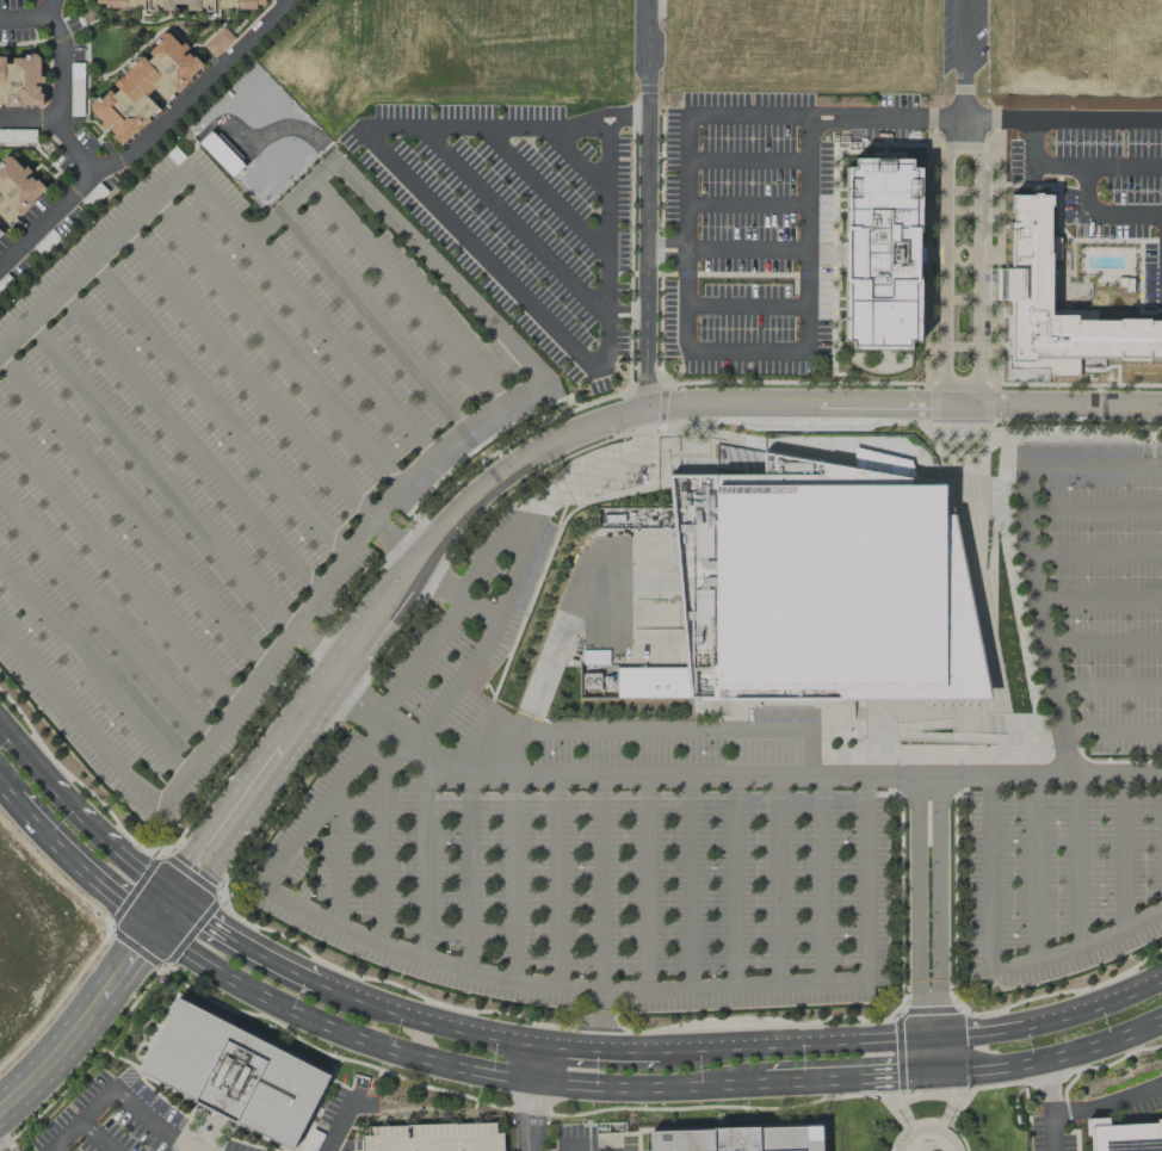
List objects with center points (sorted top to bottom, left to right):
building: (224, 6)
road: (23, 18)
building: (217, 43)
road: (965, 58)
building: (20, 81)
road: (58, 85)
building: (143, 87)
road: (610, 113)
road: (747, 116)
road: (886, 117)
road: (1063, 118)
road: (471, 128)
road: (147, 138)
road: (1037, 138)
road: (70, 147)
road: (577, 161)
road: (747, 161)
road: (1099, 161)
parking lot: (1102, 180)
building: (16, 188)
road: (549, 192)
road: (649, 204)
road: (747, 204)
road: (1100, 206)
road: (517, 223)
road: (686, 229)
road: (806, 231)
building: (0, 233)
road: (607, 241)
road: (667, 242)
building: (1038, 249)
road: (747, 250)
building: (882, 254)
road: (486, 255)
road: (668, 260)
road: (947, 261)
road: (976, 262)
road: (444, 274)
road: (407, 292)
road: (747, 307)
road: (373, 318)
road: (277, 344)
road: (743, 351)
road: (358, 369)
road: (247, 375)
road: (960, 385)
road: (217, 408)
road: (974, 434)
road: (558, 438)
road: (188, 441)
road: (947, 447)
road: (1026, 448)
road: (817, 451)
road: (1001, 453)
road: (1094, 464)
road: (691, 465)
road: (159, 476)
road: (971, 494)
road: (977, 495)
road: (1094, 510)
road: (132, 513)
road: (500, 543)
road: (1094, 555)
road: (990, 558)
road: (118, 563)
building: (815, 588)
stadium: (815, 588)
road: (453, 593)
road: (573, 599)
road: (1098, 599)
road: (105, 615)
road: (982, 615)
road: (1038, 619)
road: (1018, 620)
road: (488, 636)
road: (1102, 644)
road: (91, 668)
building: (595, 675)
road: (1106, 689)
road: (846, 700)
road: (858, 703)
road: (805, 704)
road: (909, 704)
road: (699, 705)
road: (954, 708)
road: (1020, 723)
road: (396, 729)
road: (629, 729)
road: (88, 732)
road: (1111, 732)
road: (919, 735)
road: (878, 744)
road: (941, 748)
road: (810, 751)
road: (985, 774)
road: (639, 776)
road: (8, 793)
road: (681, 794)
road: (326, 803)
road: (82, 815)
road: (381, 836)
road: (1124, 850)
road: (160, 852)
road: (425, 854)
road: (335, 858)
road: (1078, 860)
road: (1034, 867)
road: (82, 870)
road: (469, 871)
road: (989, 871)
road: (865, 877)
road: (512, 878)
road: (821, 878)
road: (775, 880)
road: (555, 881)
road: (730, 881)
road: (644, 883)
road: (687, 883)
road: (599, 884)
road: (915, 905)
road: (940, 905)
road: (242, 946)
road: (1077, 948)
road: (556, 985)
road: (92, 1011)
road: (425, 1019)
road: (600, 1019)
road: (914, 1038)
road: (595, 1048)
road: (109, 1053)
road: (941, 1057)
road: (1055, 1059)
road: (532, 1062)
road: (441, 1064)
building: (233, 1073)
road: (851, 1081)
road: (925, 1091)
road: (948, 1097)
road: (966, 1099)
road: (901, 1101)
road: (1105, 1101)
road: (1045, 1106)
road: (539, 1114)
road: (526, 1115)
road: (81, 1119)
park: (933, 1119)
road: (150, 1122)
road: (340, 1124)
road: (942, 1125)
road: (733, 1126)
road: (910, 1126)
road: (200, 1127)
fountain: (206, 1127)
road: (913, 1132)
road: (196, 1134)
road: (95, 1135)
building: (1123, 1135)
building: (432, 1137)
parking garage: (432, 1137)
road: (948, 1138)
building: (738, 1140)
road: (184, 1143)
road: (591, 1143)

